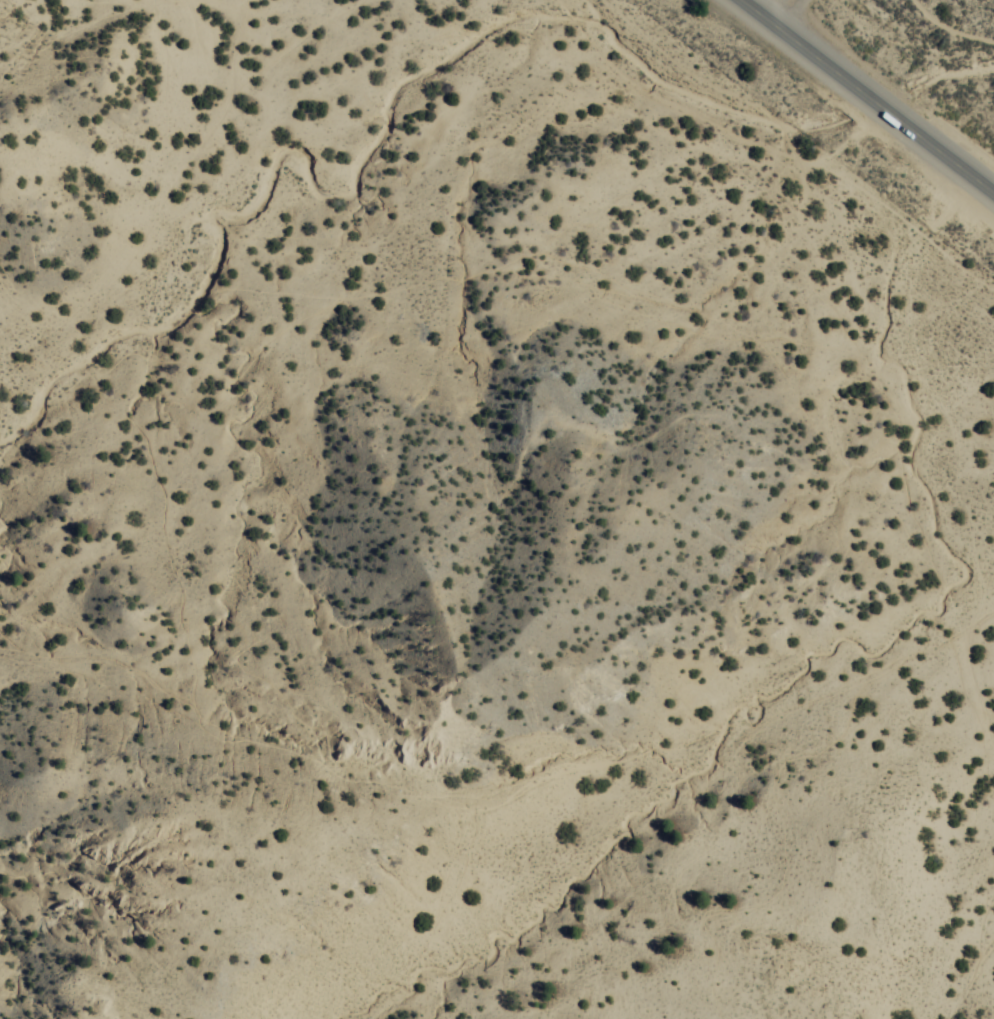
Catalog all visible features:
road: (772, 8)
road: (868, 95)

